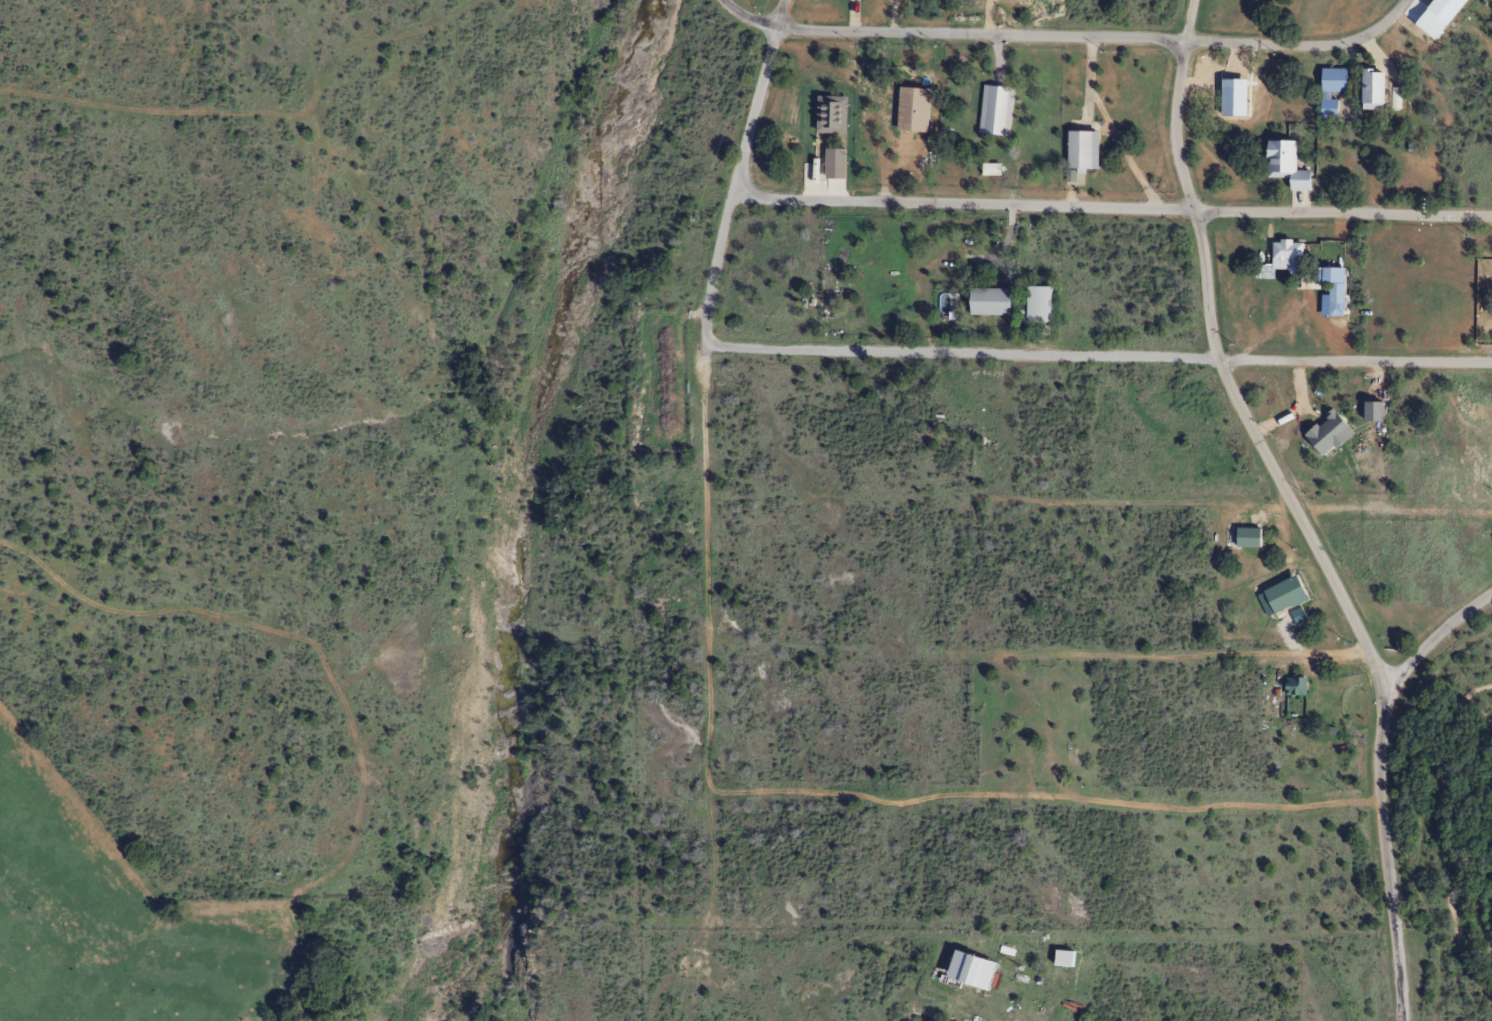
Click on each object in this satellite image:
building: (1438, 9)
road: (780, 13)
road: (747, 17)
road: (1098, 36)
building: (1366, 87)
building: (1327, 90)
building: (991, 110)
building: (1077, 150)
building: (987, 170)
road: (734, 187)
road: (964, 202)
road: (1344, 212)
building: (1283, 250)
building: (828, 293)
building: (986, 302)
building: (1034, 305)
road: (1097, 356)
road: (1224, 377)
road: (706, 565)
road: (1379, 784)

